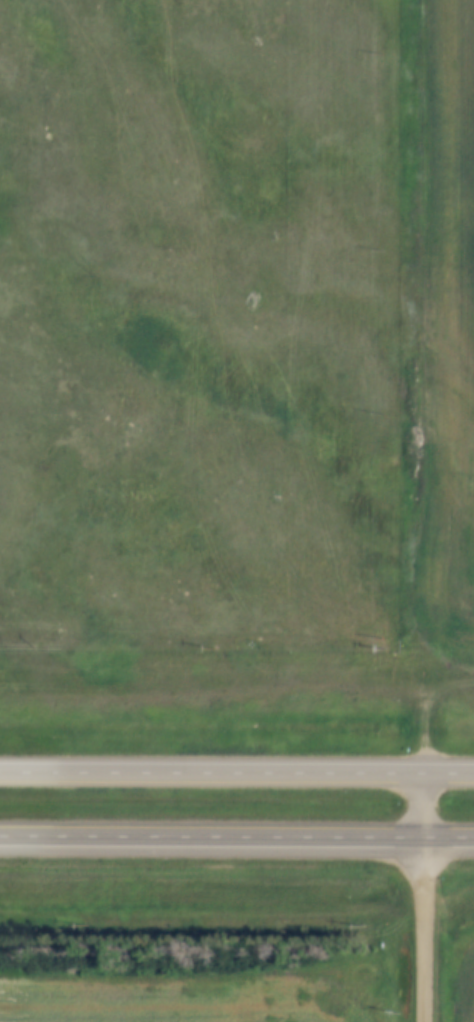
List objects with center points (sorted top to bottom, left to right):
road: (237, 773)
road: (422, 804)
road: (237, 835)
road: (425, 929)

